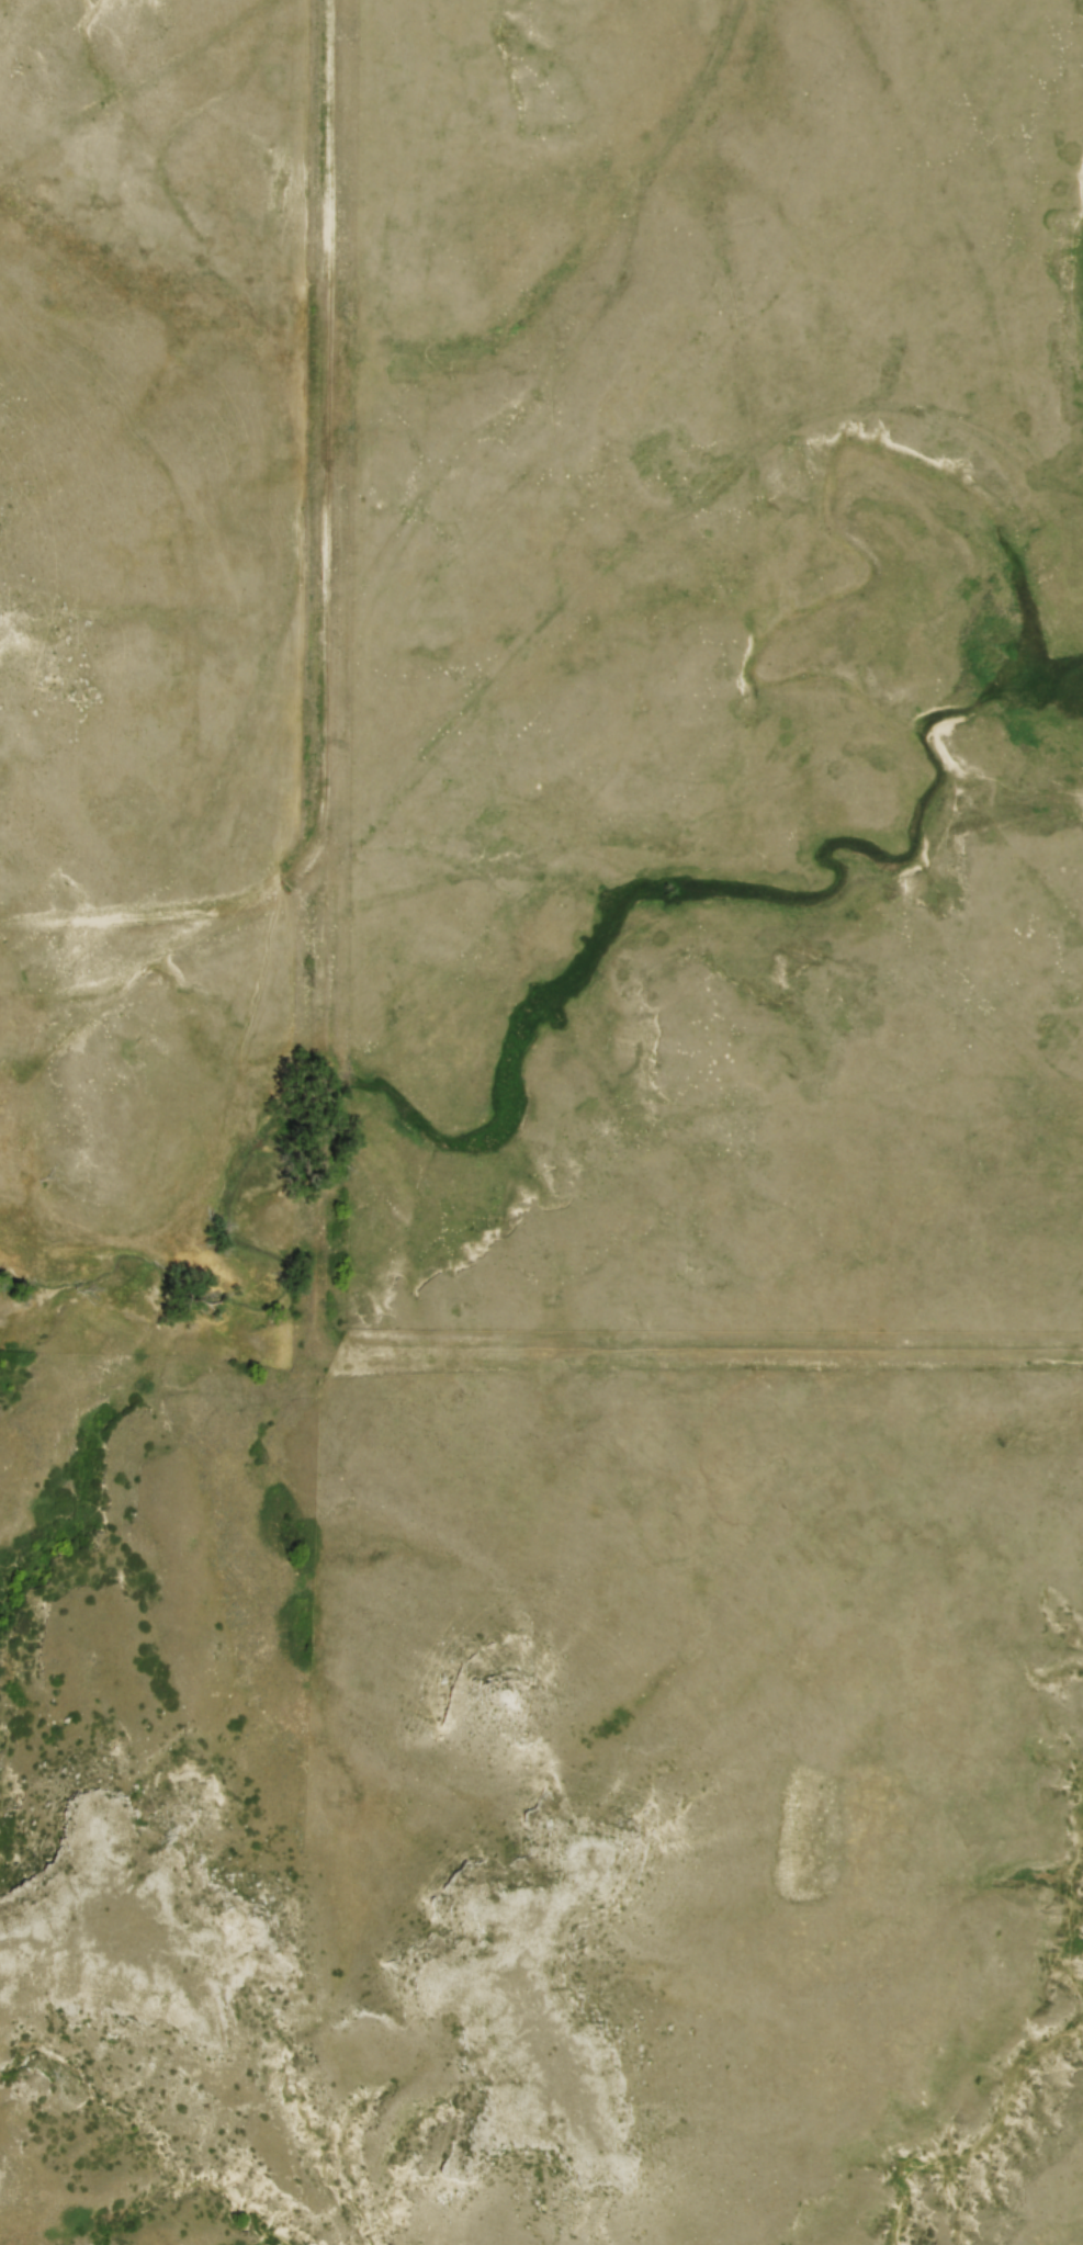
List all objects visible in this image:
road: (330, 435)
road: (161, 920)

